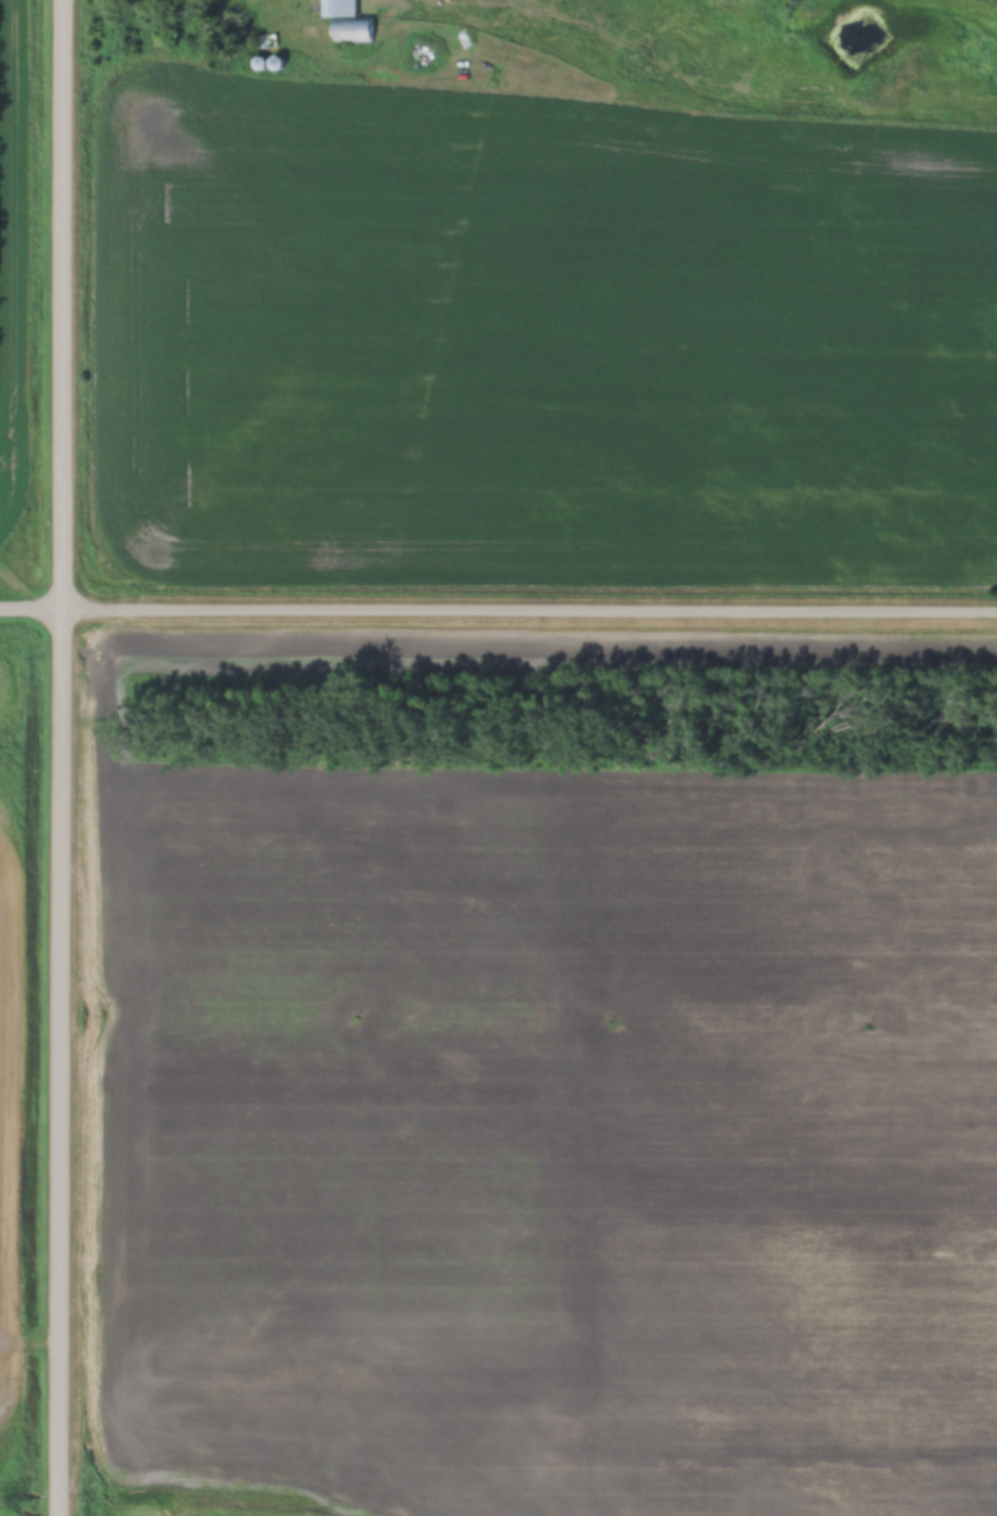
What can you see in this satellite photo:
building: (360, 30)
road: (498, 608)
road: (61, 758)

